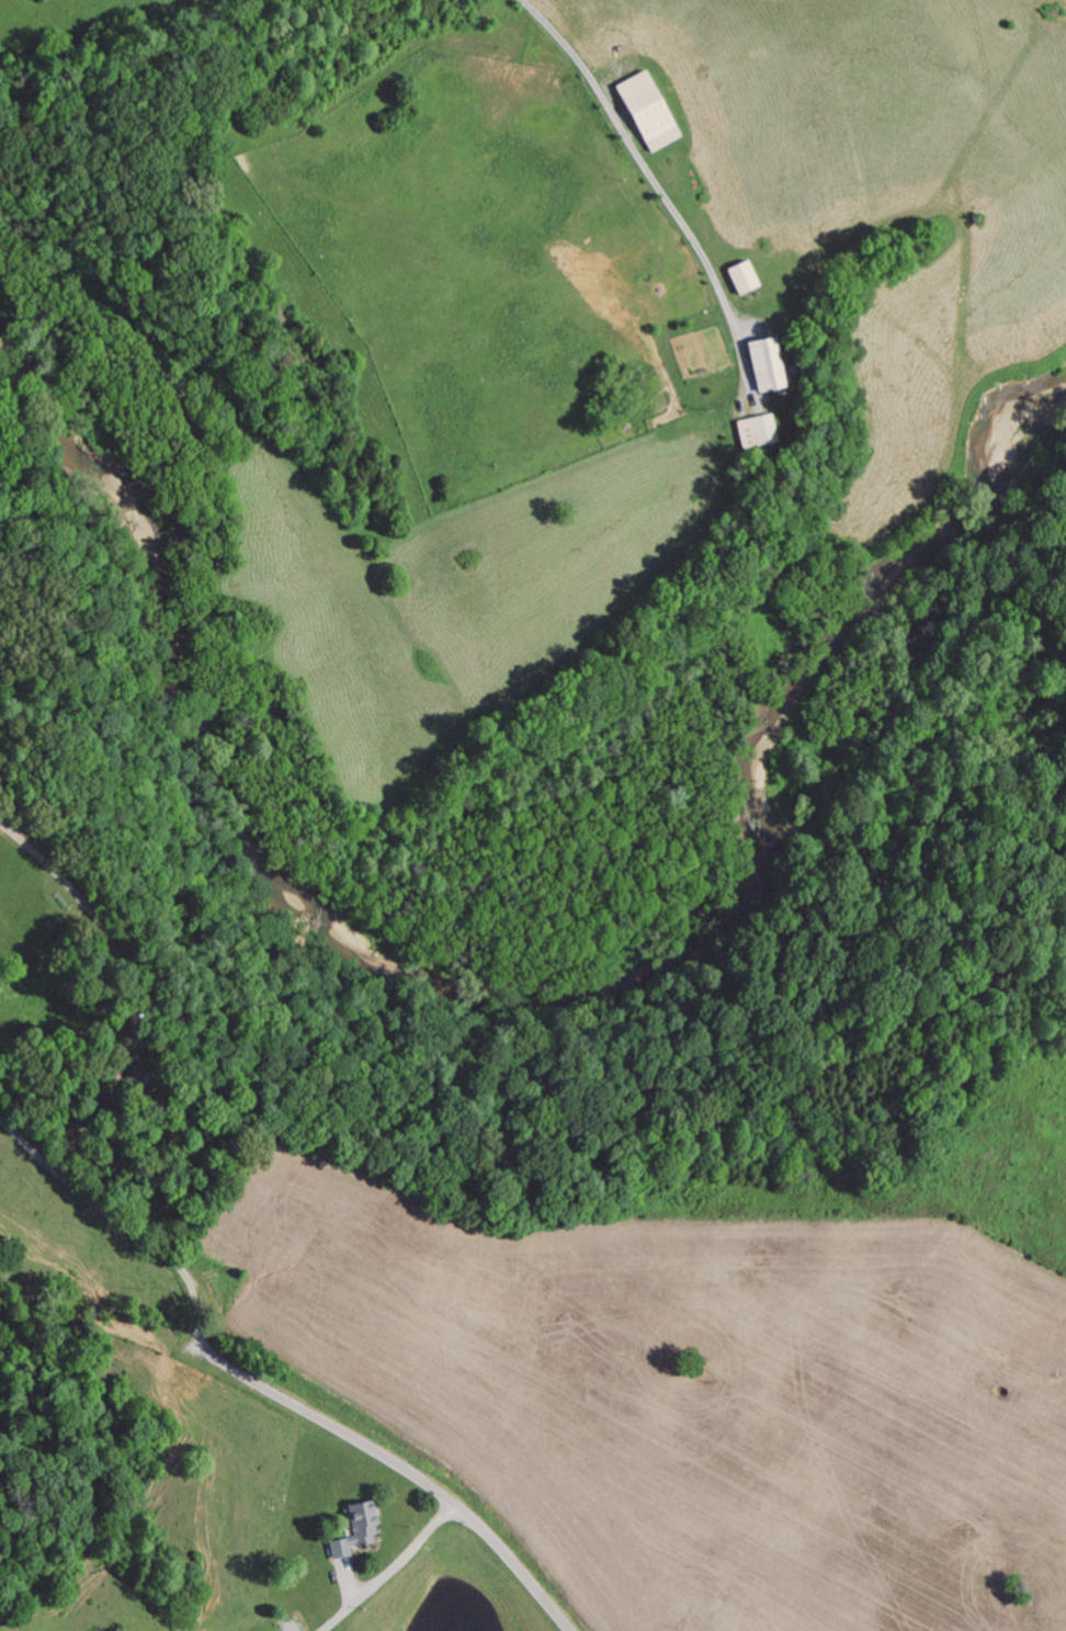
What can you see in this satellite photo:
building: (648, 110)
building: (744, 275)
building: (767, 363)
building: (757, 430)
road: (348, 1434)
building: (358, 1527)
road: (533, 1585)

